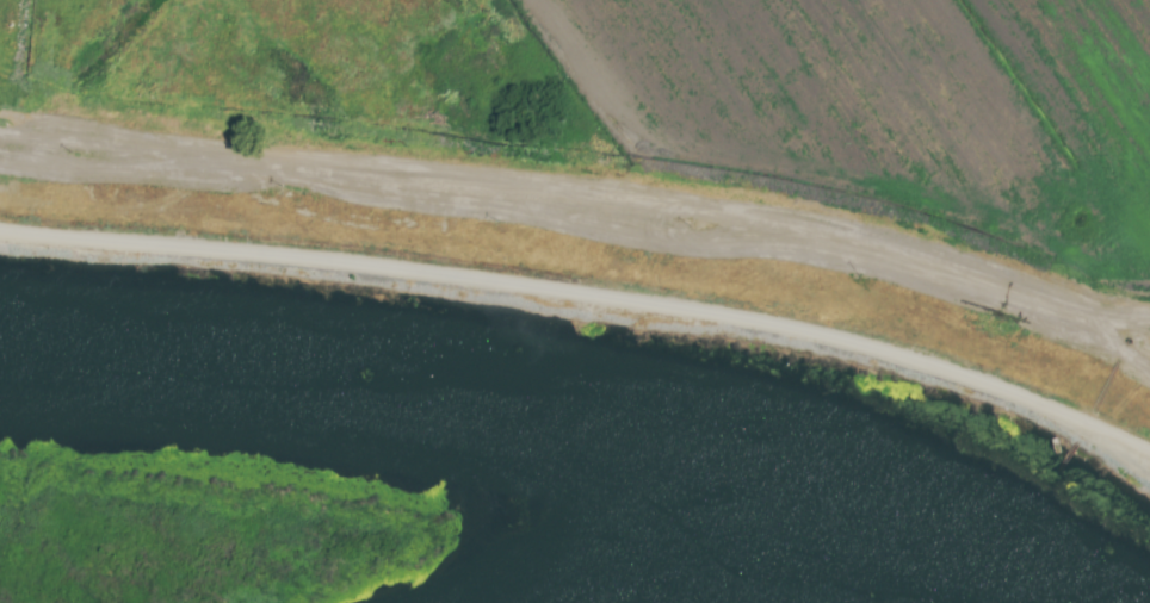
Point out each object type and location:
crop: (644, 147)
road: (585, 297)

